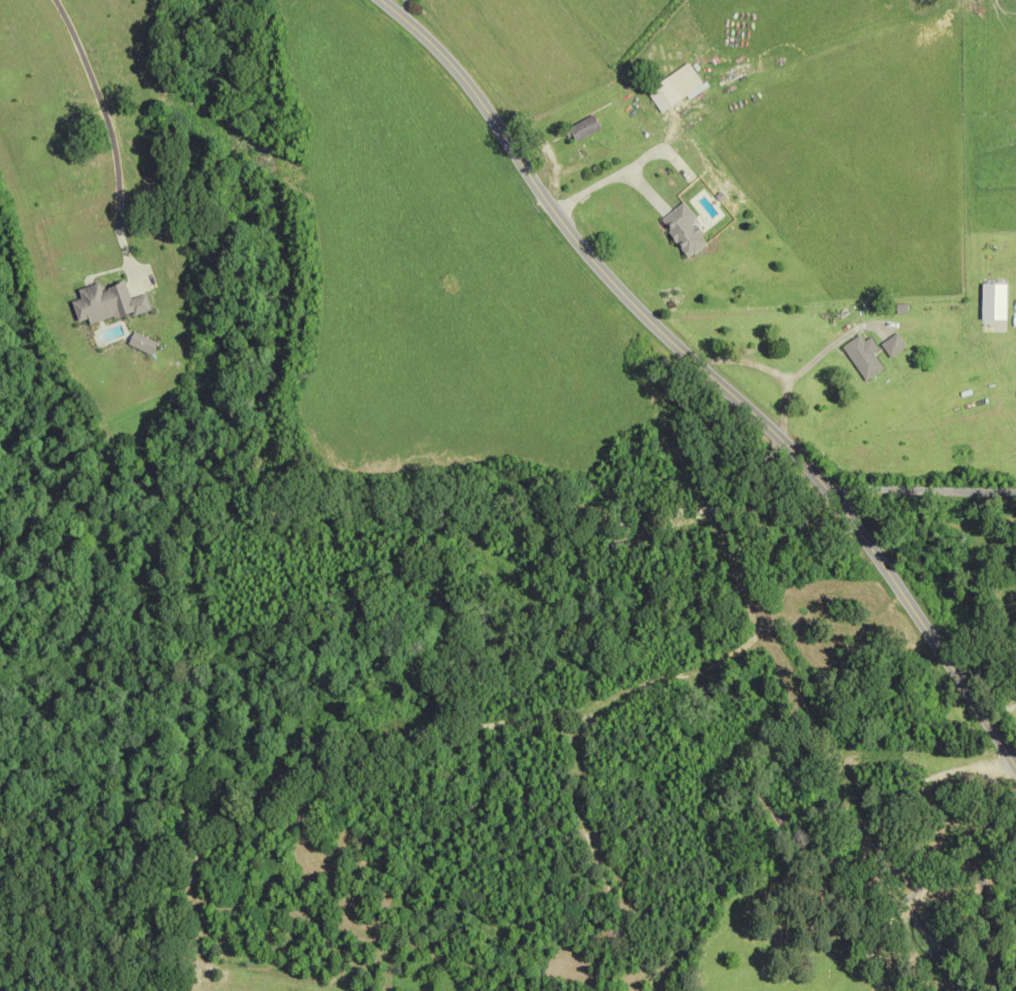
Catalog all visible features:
building: (583, 128)
building: (684, 230)
building: (895, 345)
building: (865, 356)
road: (708, 375)
road: (924, 489)
road: (959, 775)
building: (769, 807)
road: (982, 870)

